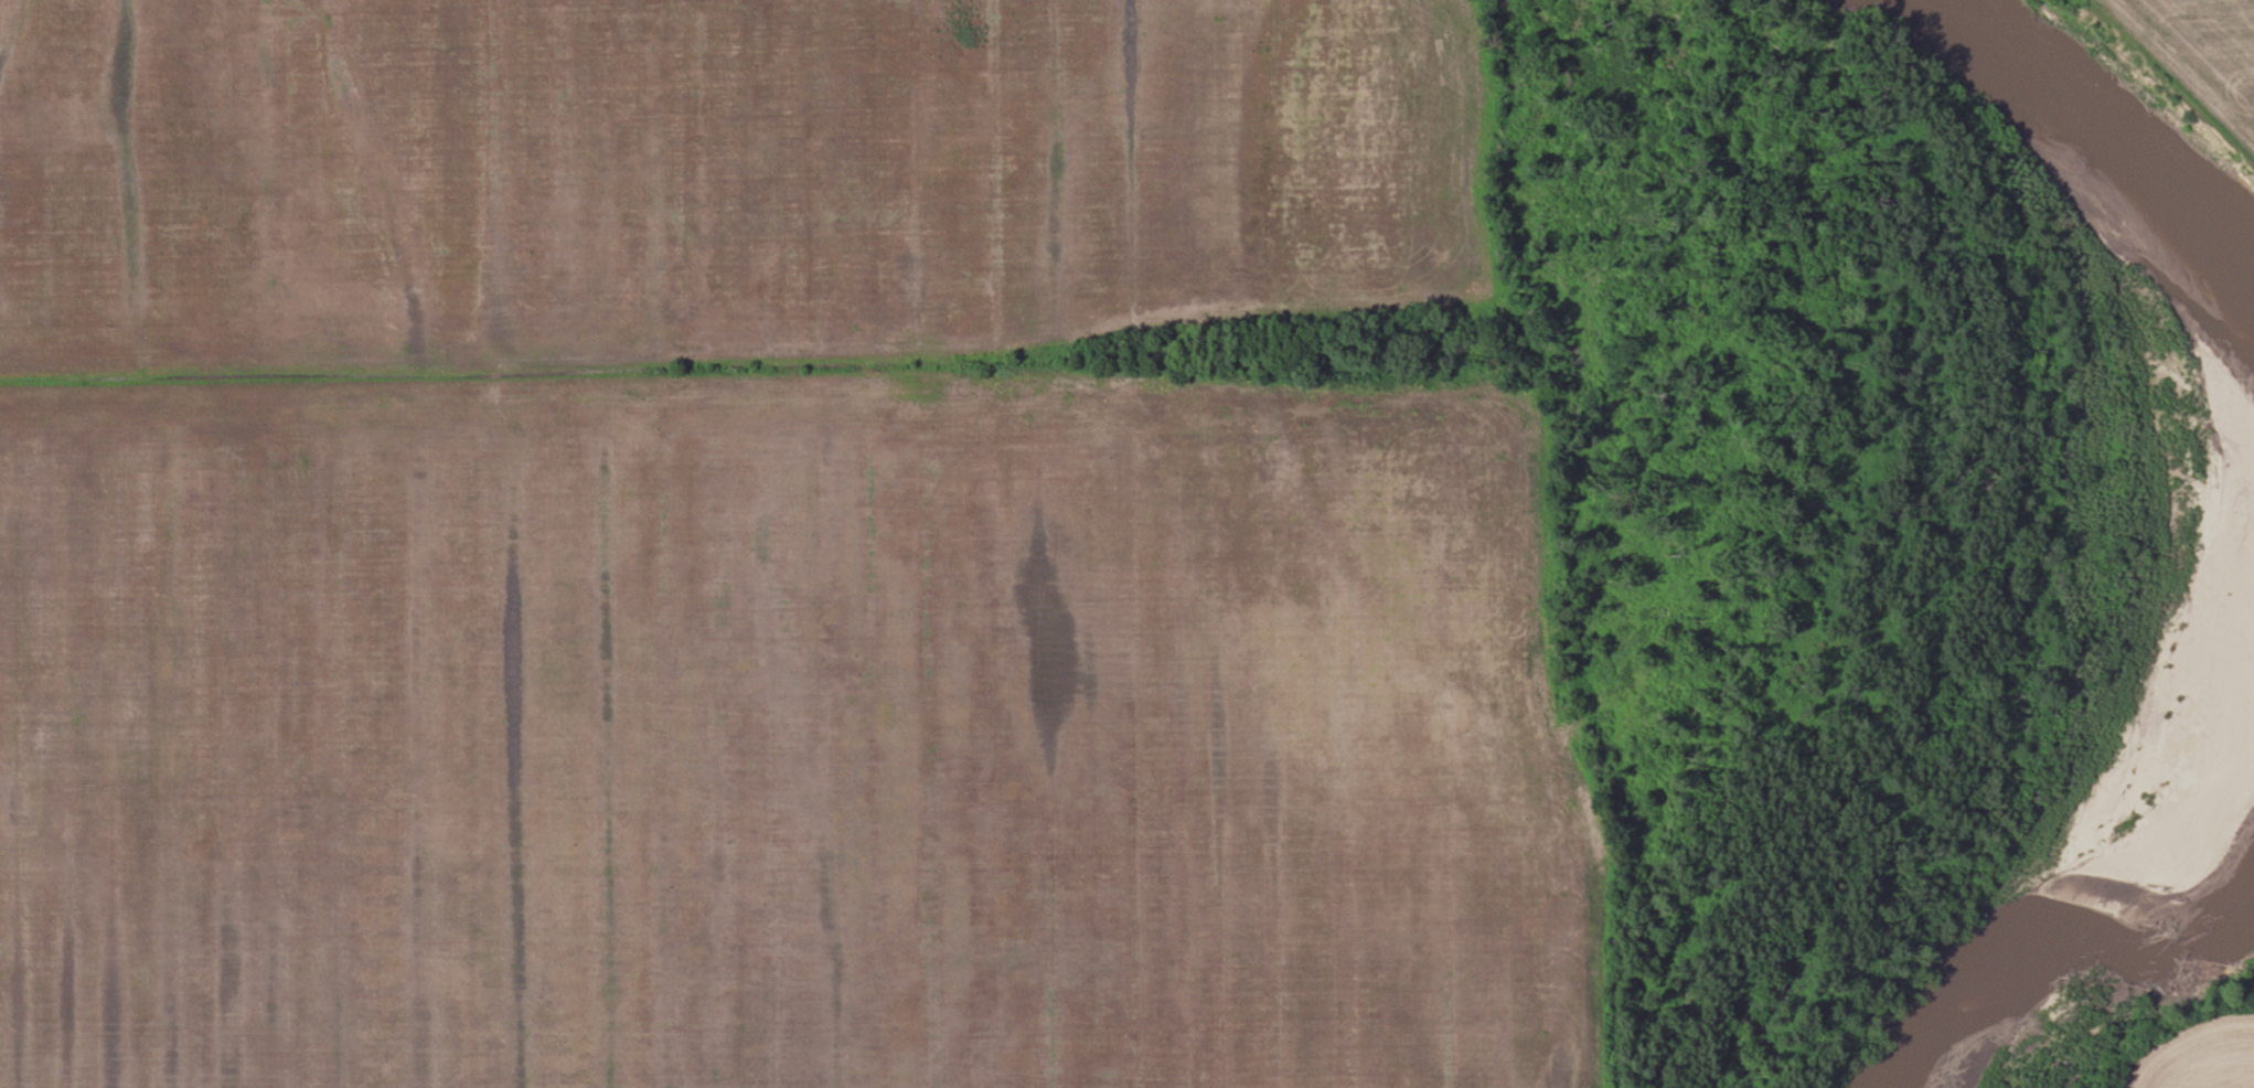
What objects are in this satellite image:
river: (2229, 565)

